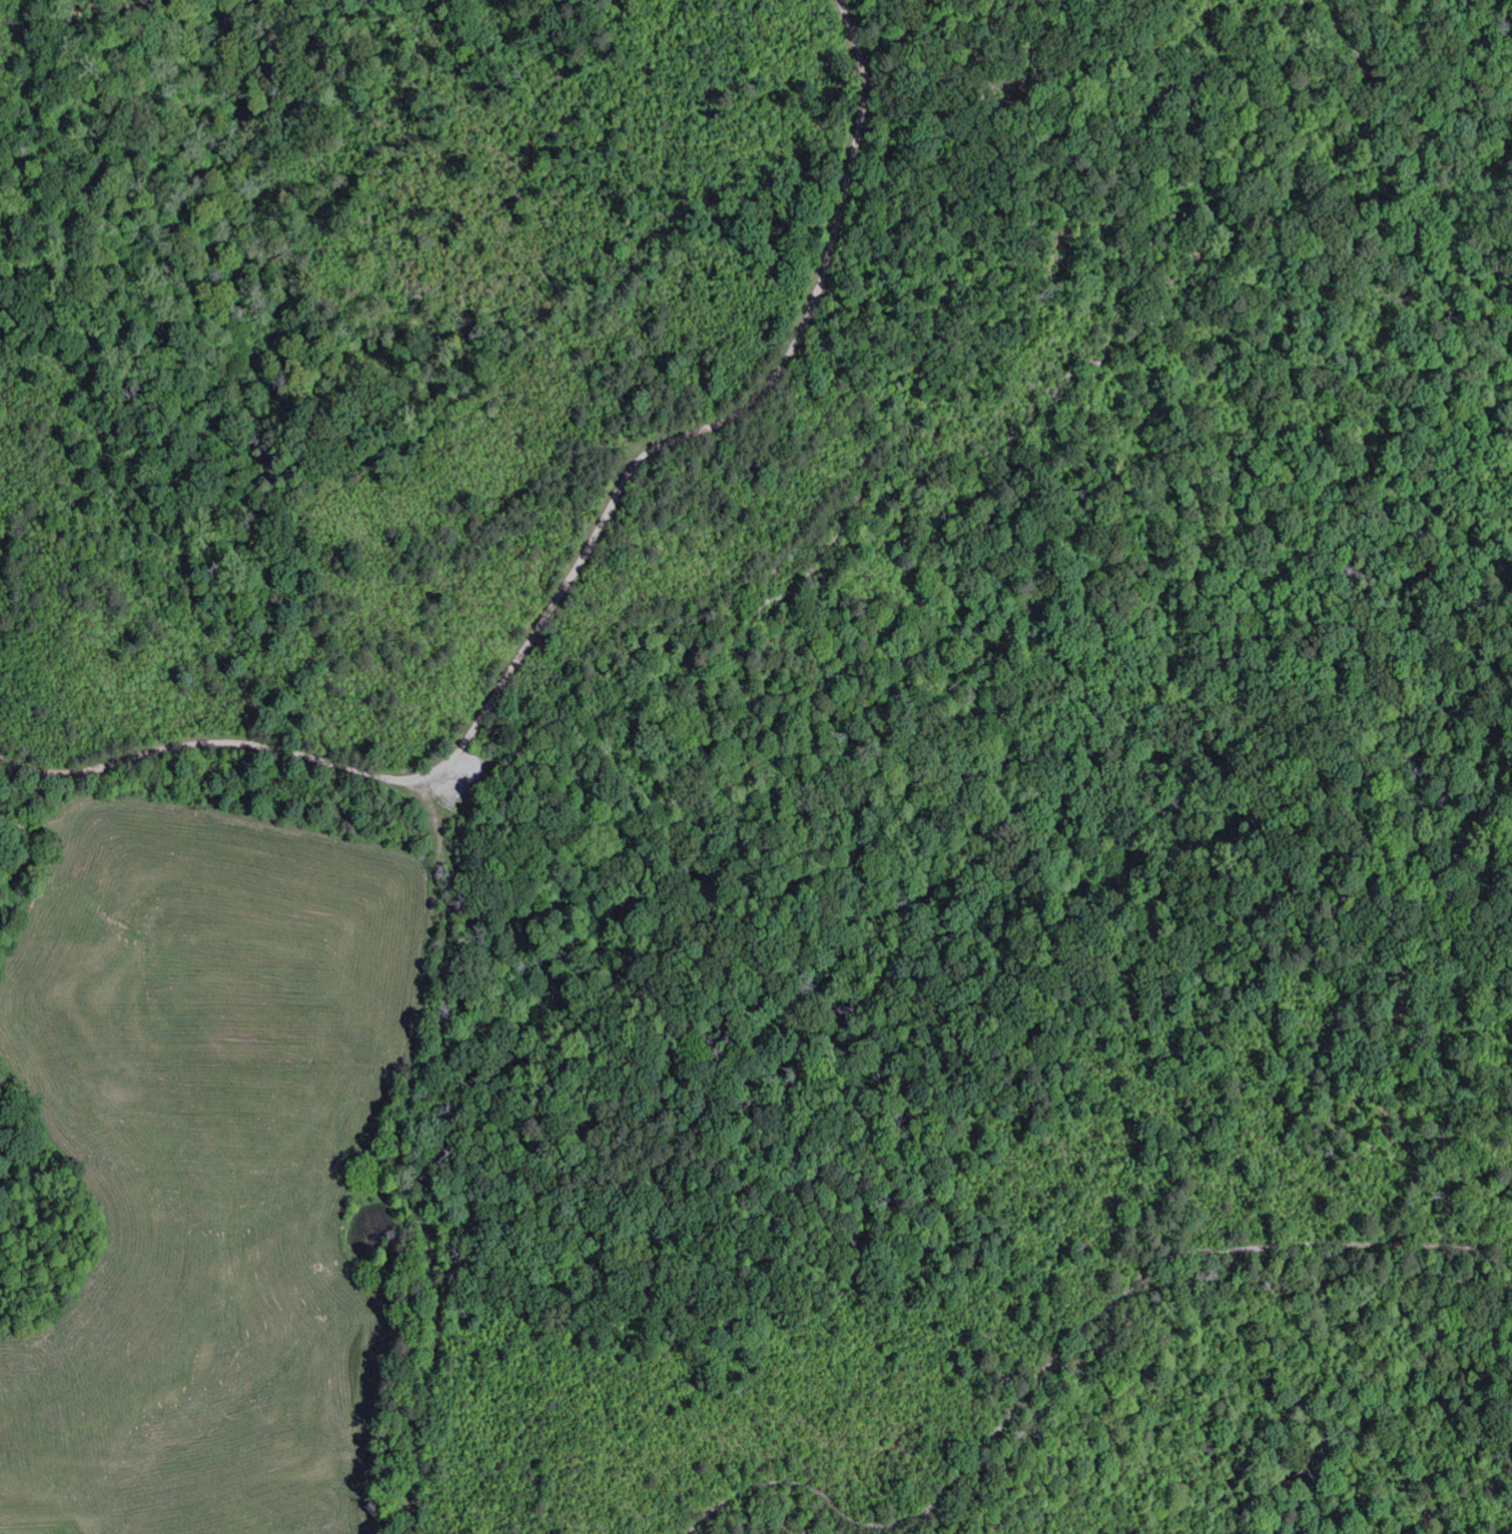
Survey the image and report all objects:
road: (672, 442)
road: (164, 751)

